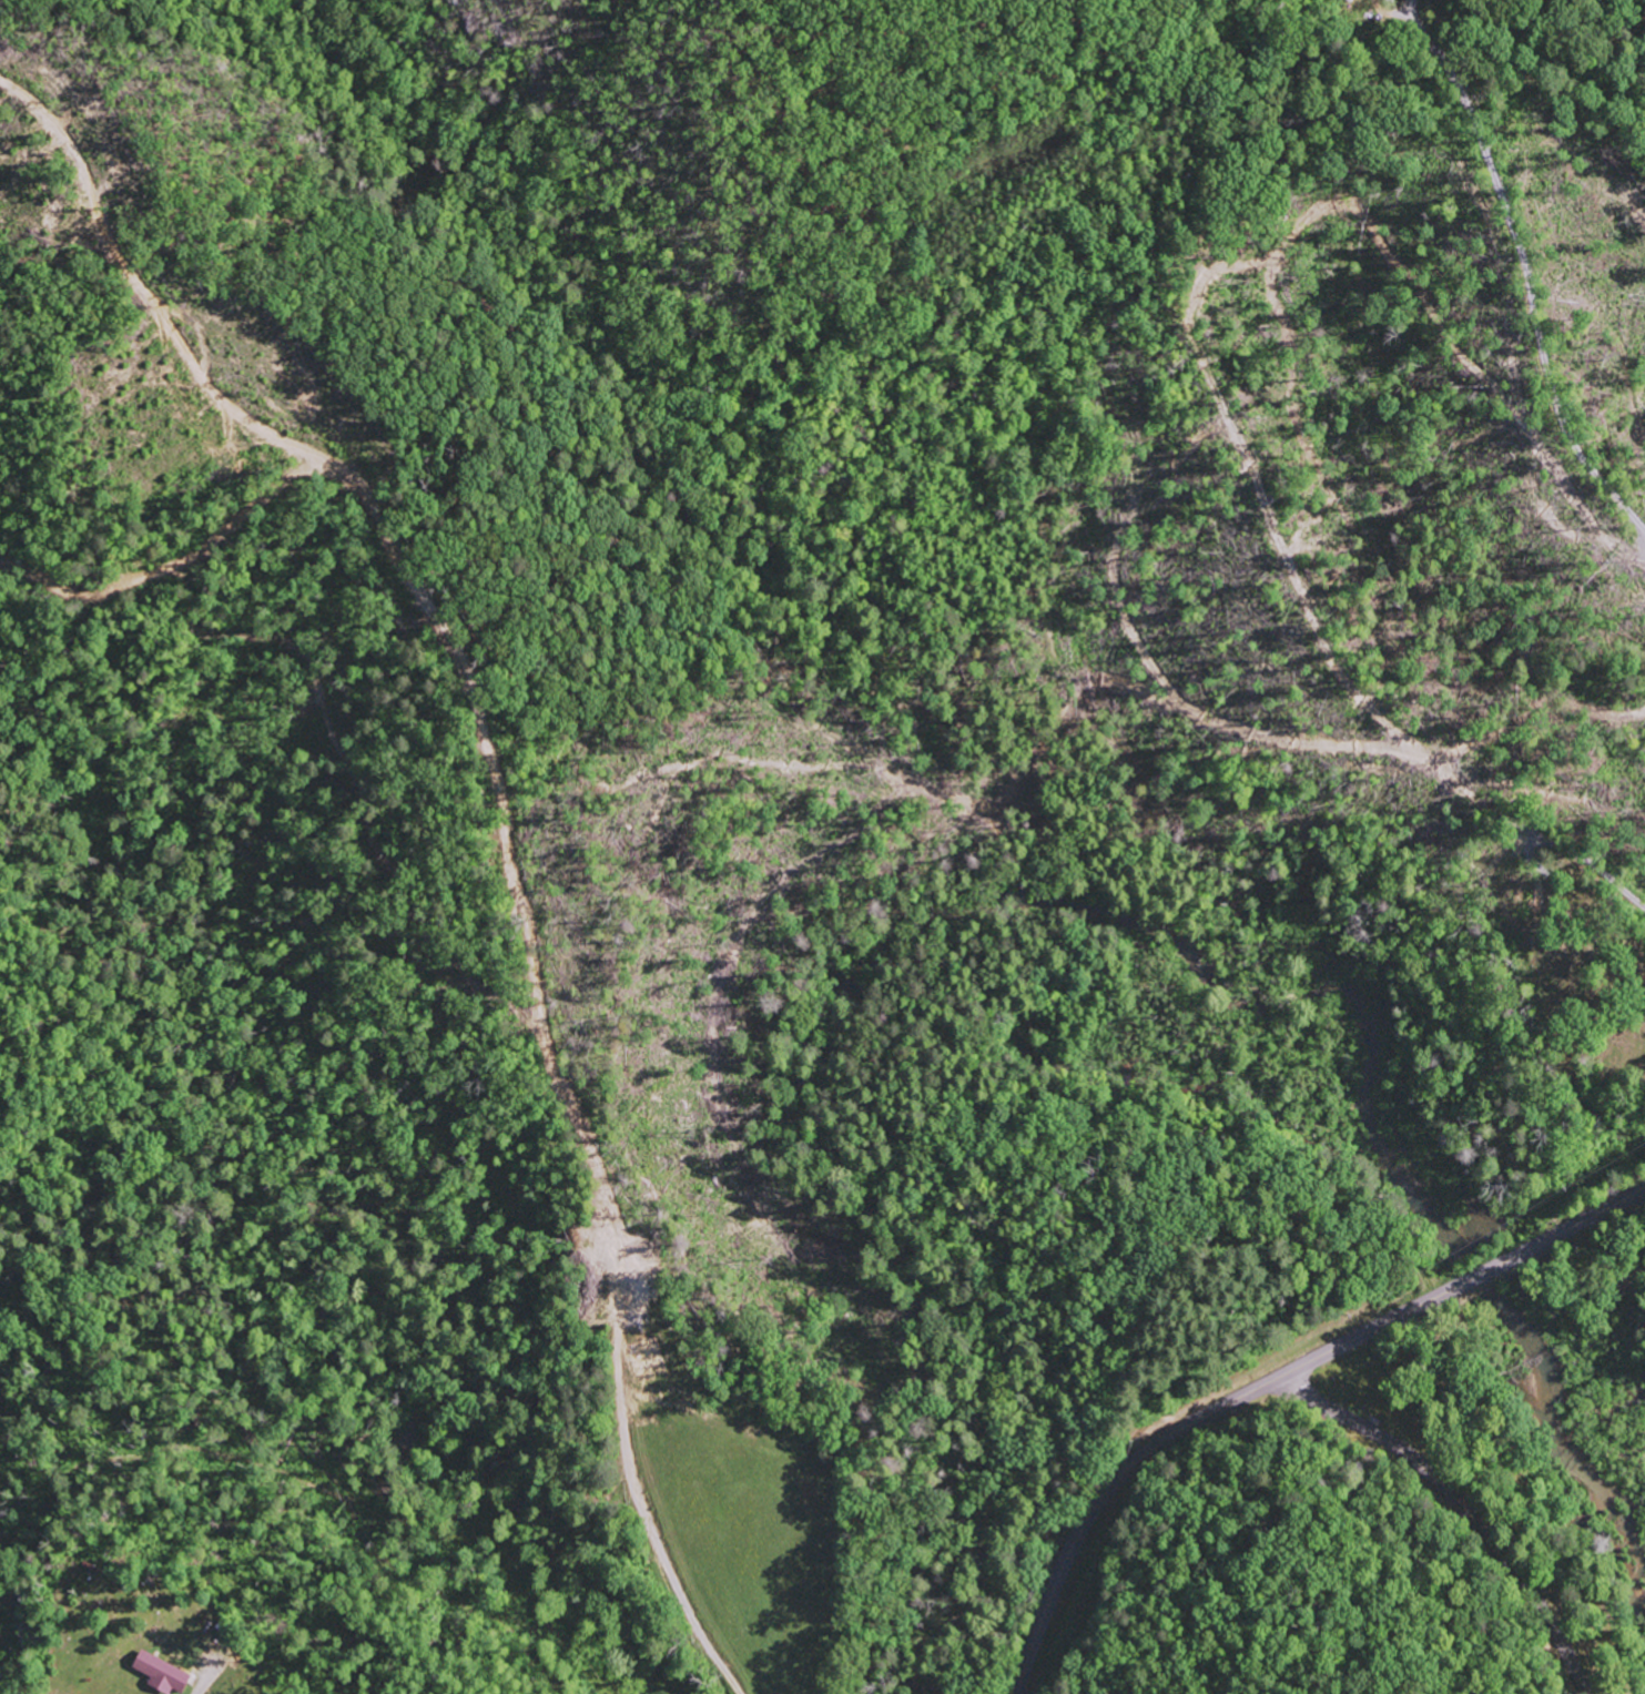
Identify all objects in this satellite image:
road: (1631, 21)
road: (1530, 314)
road: (1582, 863)
road: (1626, 897)
park: (1567, 975)
road: (1268, 1381)
road: (1461, 1504)
building: (159, 1673)

